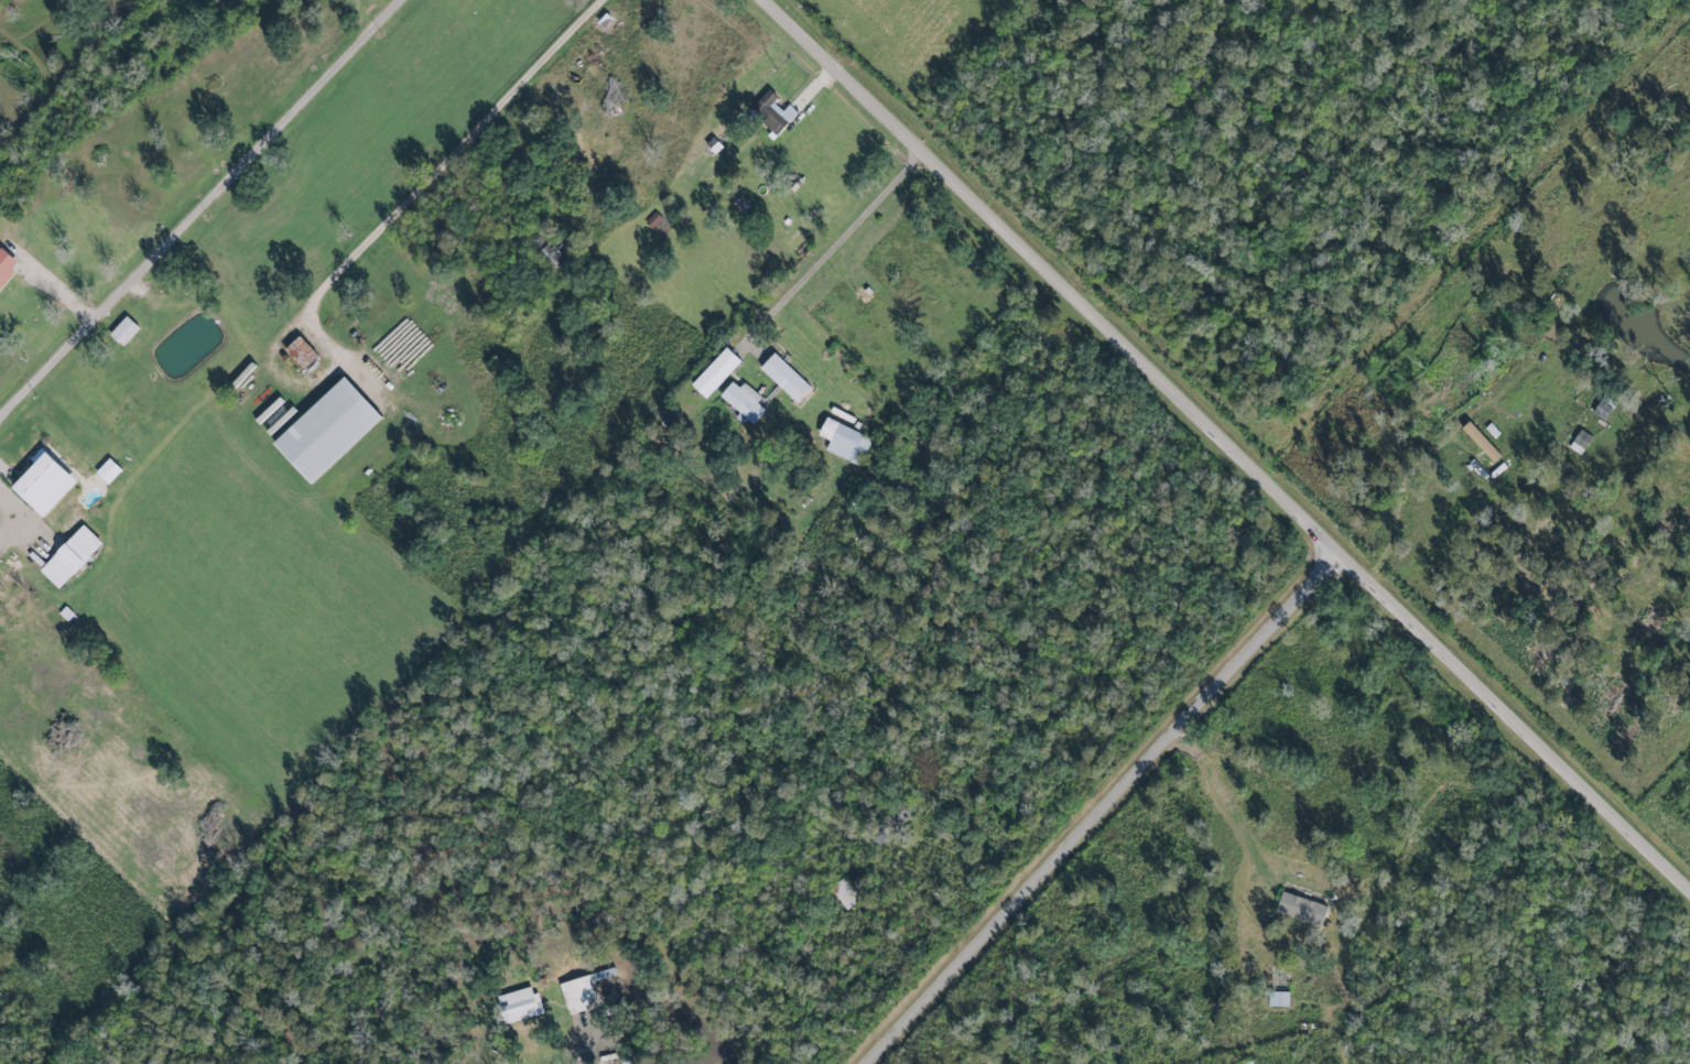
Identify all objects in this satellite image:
building: (698, 32)
building: (774, 113)
road: (457, 156)
road: (203, 207)
road: (832, 250)
building: (123, 332)
building: (300, 352)
building: (715, 373)
building: (784, 378)
building: (741, 402)
building: (1602, 411)
building: (325, 431)
building: (844, 442)
building: (1581, 442)
building: (1482, 443)
road: (1227, 444)
building: (108, 471)
building: (42, 484)
building: (69, 557)
road: (1108, 810)
building: (844, 893)
building: (1301, 909)
building: (582, 991)
building: (1279, 999)
building: (519, 1003)
road: (578, 1062)

